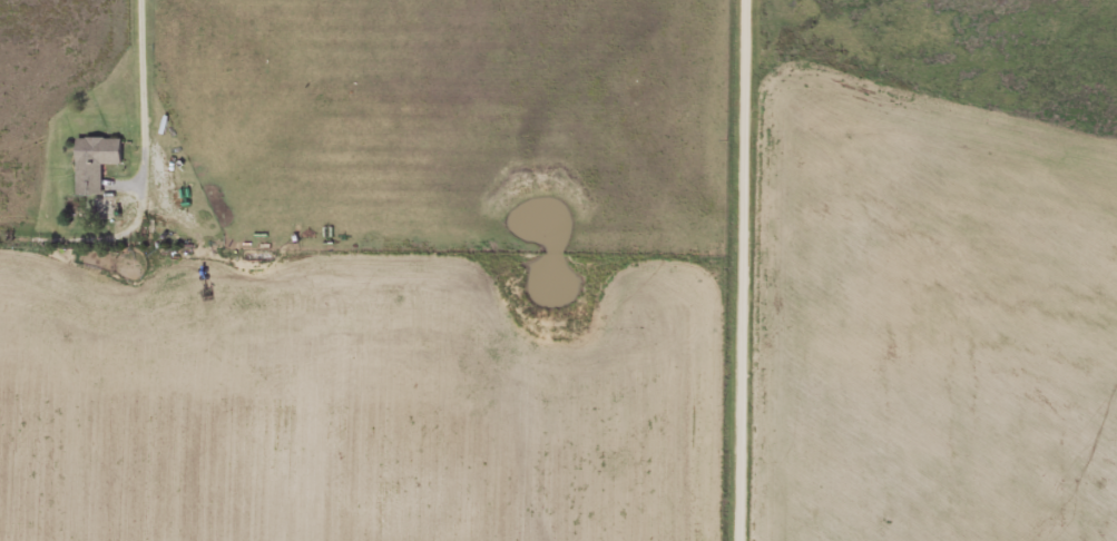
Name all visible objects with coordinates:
building: (92, 165)
road: (746, 270)

